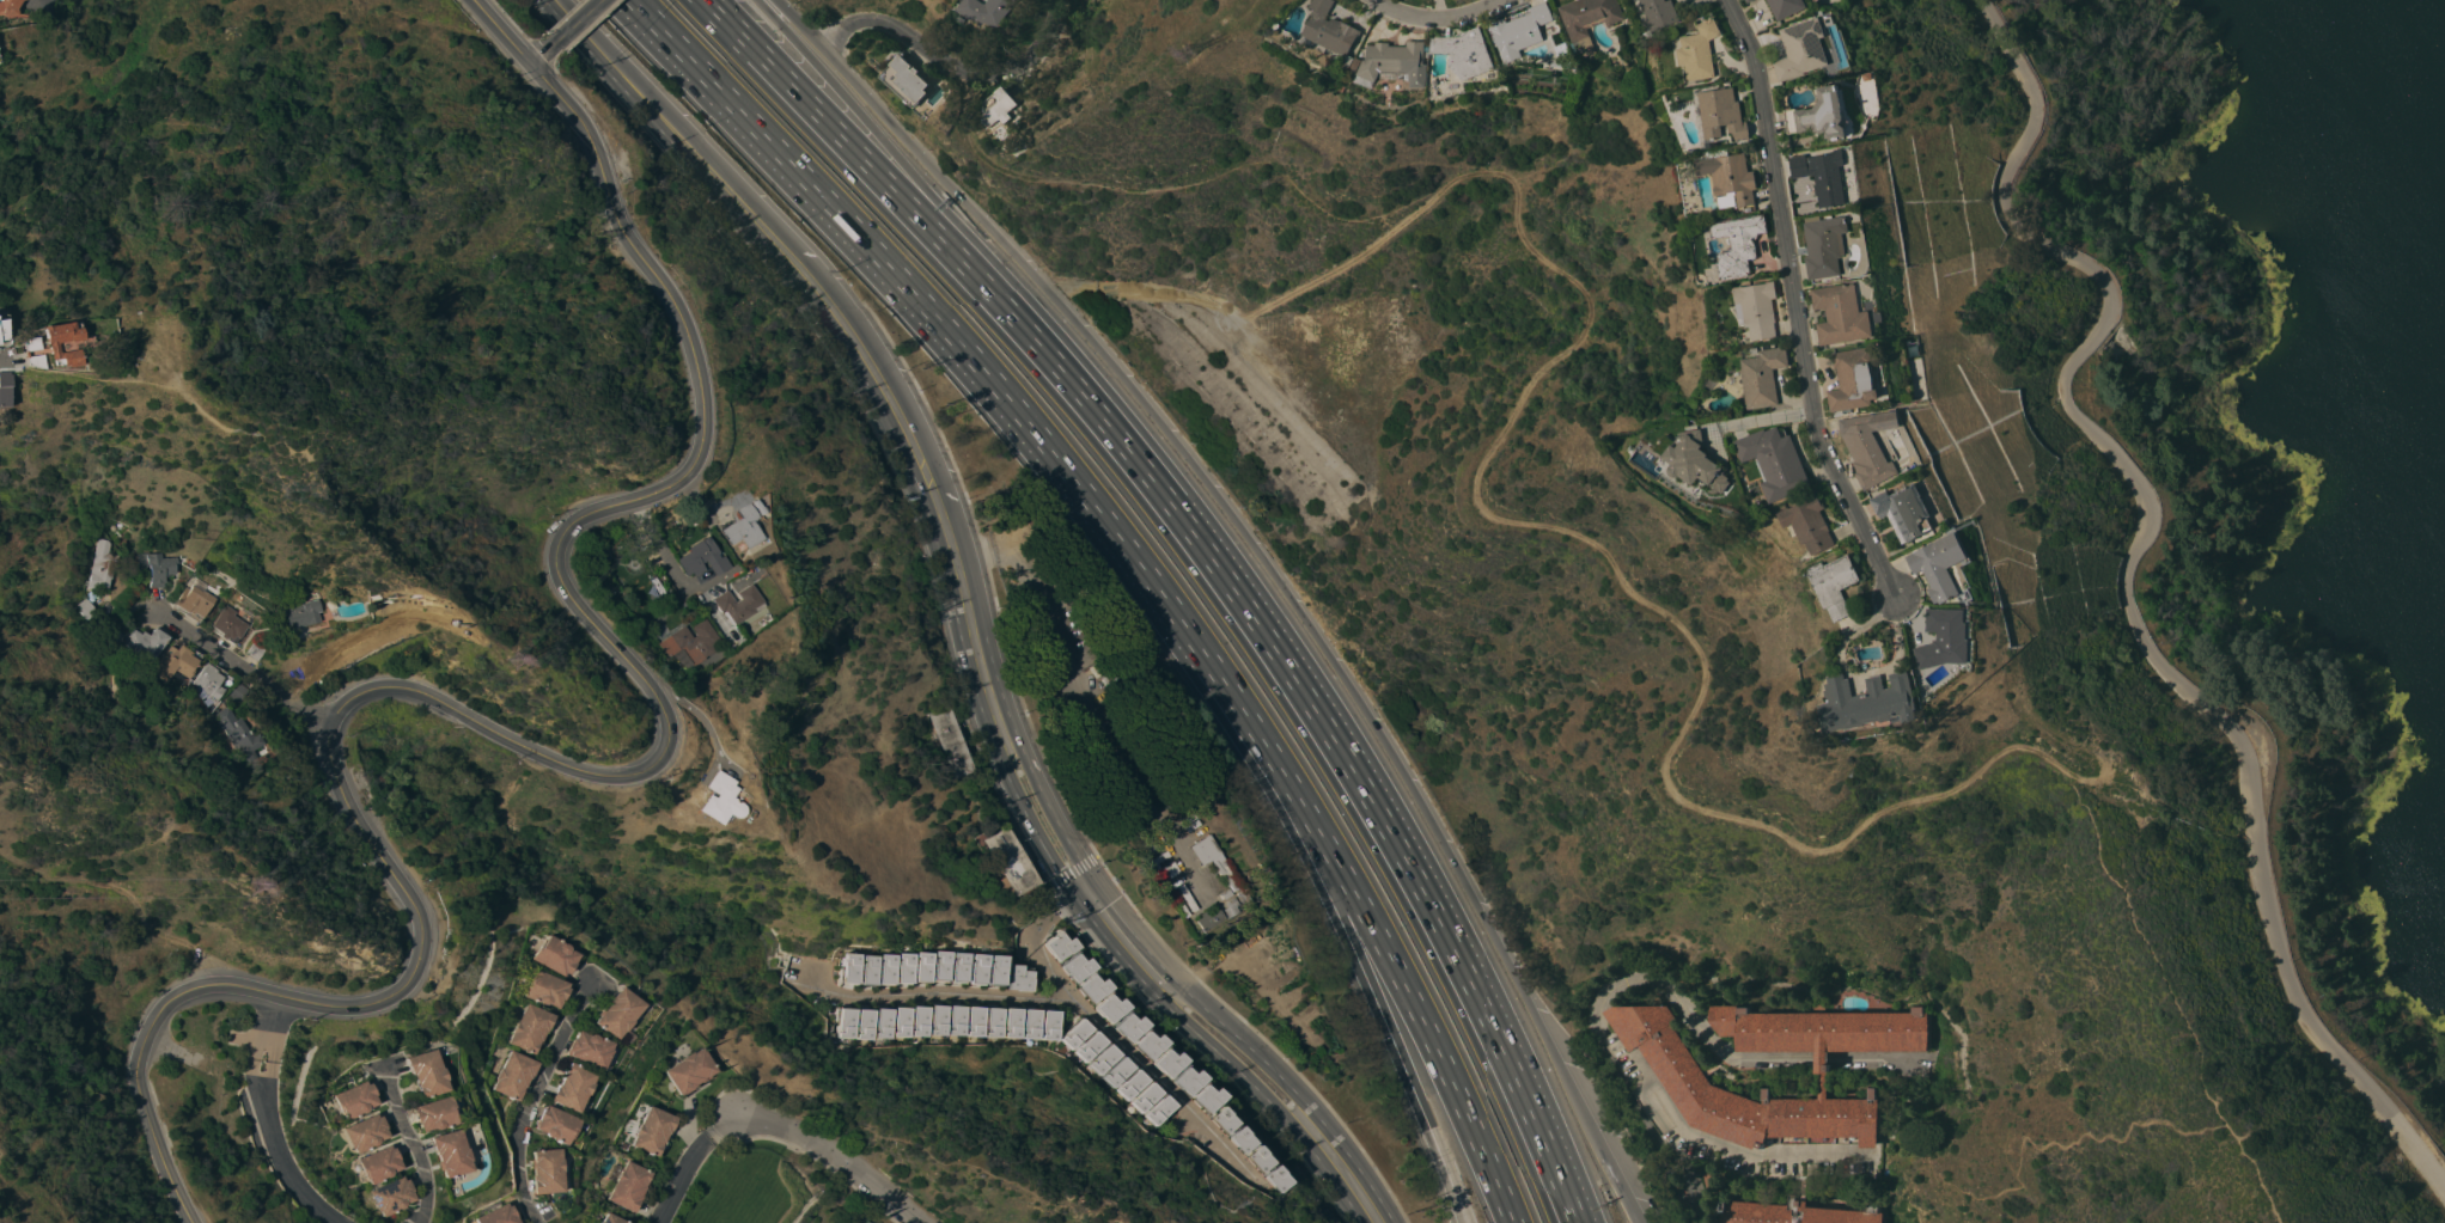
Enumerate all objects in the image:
building: (1745, 0)
building: (1748, 0)
road: (28, 2)
building: (1786, 6)
building: (5, 7)
building: (989, 10)
building: (1659, 12)
road: (1443, 17)
building: (1589, 18)
road: (572, 20)
road: (498, 31)
building: (1520, 31)
building: (1331, 35)
building: (1801, 48)
building: (1699, 50)
road: (539, 53)
power tower: (1191, 54)
building: (1459, 61)
road: (951, 63)
building: (1395, 63)
road: (610, 65)
building: (1866, 75)
building: (906, 80)
building: (1001, 106)
building: (1723, 112)
building: (1819, 115)
building: (1823, 176)
building: (1730, 177)
road: (1178, 185)
building: (1801, 188)
road: (962, 230)
road: (931, 233)
building: (1822, 240)
building: (1738, 243)
road: (1797, 301)
building: (1756, 308)
building: (1841, 313)
road: (939, 328)
building: (41, 344)
building: (16, 353)
road: (4, 359)
building: (1762, 375)
building: (1854, 378)
building: (0, 392)
road: (1762, 418)
building: (1867, 448)
building: (1697, 460)
building: (1775, 461)
building: (757, 482)
building: (748, 488)
building: (732, 490)
building: (754, 494)
building: (754, 507)
building: (1904, 510)
building: (1809, 522)
road: (1569, 526)
building: (737, 531)
road: (658, 546)
building: (702, 558)
building: (1941, 563)
building: (100, 567)
building: (157, 567)
building: (201, 567)
road: (1267, 567)
building: (737, 582)
road: (2122, 582)
building: (1835, 583)
building: (197, 599)
building: (736, 605)
building: (86, 609)
building: (298, 613)
building: (228, 624)
building: (1944, 636)
building: (146, 642)
building: (691, 642)
building: (255, 652)
power tower: (505, 659)
building: (176, 661)
road: (243, 664)
building: (209, 680)
road: (988, 695)
building: (1868, 702)
building: (238, 735)
building: (951, 742)
road: (530, 752)
building: (713, 799)
road: (1280, 806)
building: (670, 809)
road: (1388, 834)
building: (1213, 860)
building: (1008, 861)
traffic signals: (1077, 882)
power tower: (245, 888)
building: (1226, 894)
building: (1242, 898)
building: (1230, 907)
building: (1208, 918)
building: (1057, 946)
road: (1382, 946)
building: (550, 955)
building: (921, 966)
building: (939, 966)
building: (1074, 966)
building: (902, 967)
building: (957, 967)
building: (847, 968)
building: (884, 968)
building: (976, 968)
building: (865, 970)
building: (994, 970)
building: (1018, 978)
building: (1090, 987)
building: (543, 989)
building: (609, 997)
road: (937, 998)
road: (2181, 1004)
building: (1106, 1008)
building: (614, 1014)
building: (935, 1019)
building: (917, 1020)
building: (955, 1020)
building: (898, 1021)
building: (972, 1021)
building: (843, 1022)
building: (880, 1022)
building: (990, 1022)
building: (1010, 1022)
road: (255, 1023)
building: (861, 1023)
building: (1028, 1023)
building: (1047, 1025)
building: (1126, 1026)
road: (273, 1027)
building: (528, 1028)
building: (1071, 1033)
road: (1105, 1034)
building: (623, 1037)
building: (1144, 1044)
building: (1084, 1046)
road: (1608, 1048)
building: (586, 1050)
road: (1751, 1058)
building: (1097, 1059)
building: (1163, 1062)
building: (689, 1070)
road: (252, 1071)
building: (1111, 1071)
building: (426, 1072)
road: (1403, 1072)
road: (262, 1074)
building: (514, 1075)
building: (1182, 1080)
building: (1124, 1084)
building: (571, 1087)
building: (1689, 1090)
road: (531, 1097)
building: (1138, 1097)
building: (1200, 1097)
building: (354, 1100)
building: (1151, 1109)
building: (434, 1114)
building: (1215, 1119)
road: (719, 1124)
building: (555, 1125)
building: (652, 1131)
building: (364, 1133)
building: (1232, 1139)
road: (411, 1141)
building: (449, 1154)
road: (834, 1155)
building: (1249, 1158)
road: (281, 1163)
building: (376, 1164)
building: (545, 1172)
building: (1266, 1178)
road: (682, 1179)
building: (627, 1185)
building: (390, 1197)
building: (1794, 1211)
building: (499, 1215)
building: (611, 1219)

